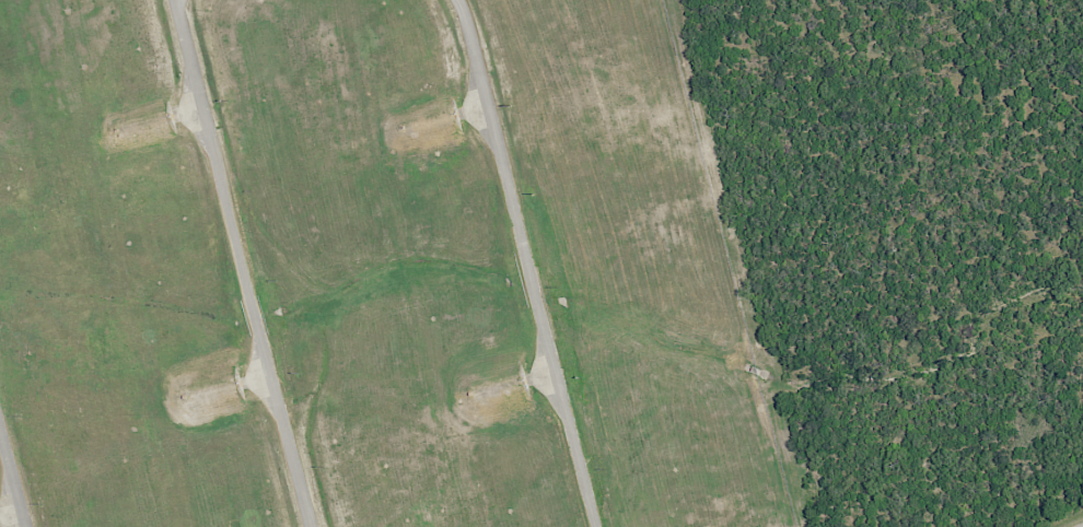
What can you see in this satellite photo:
road: (529, 262)
road: (243, 263)
road: (12, 477)

